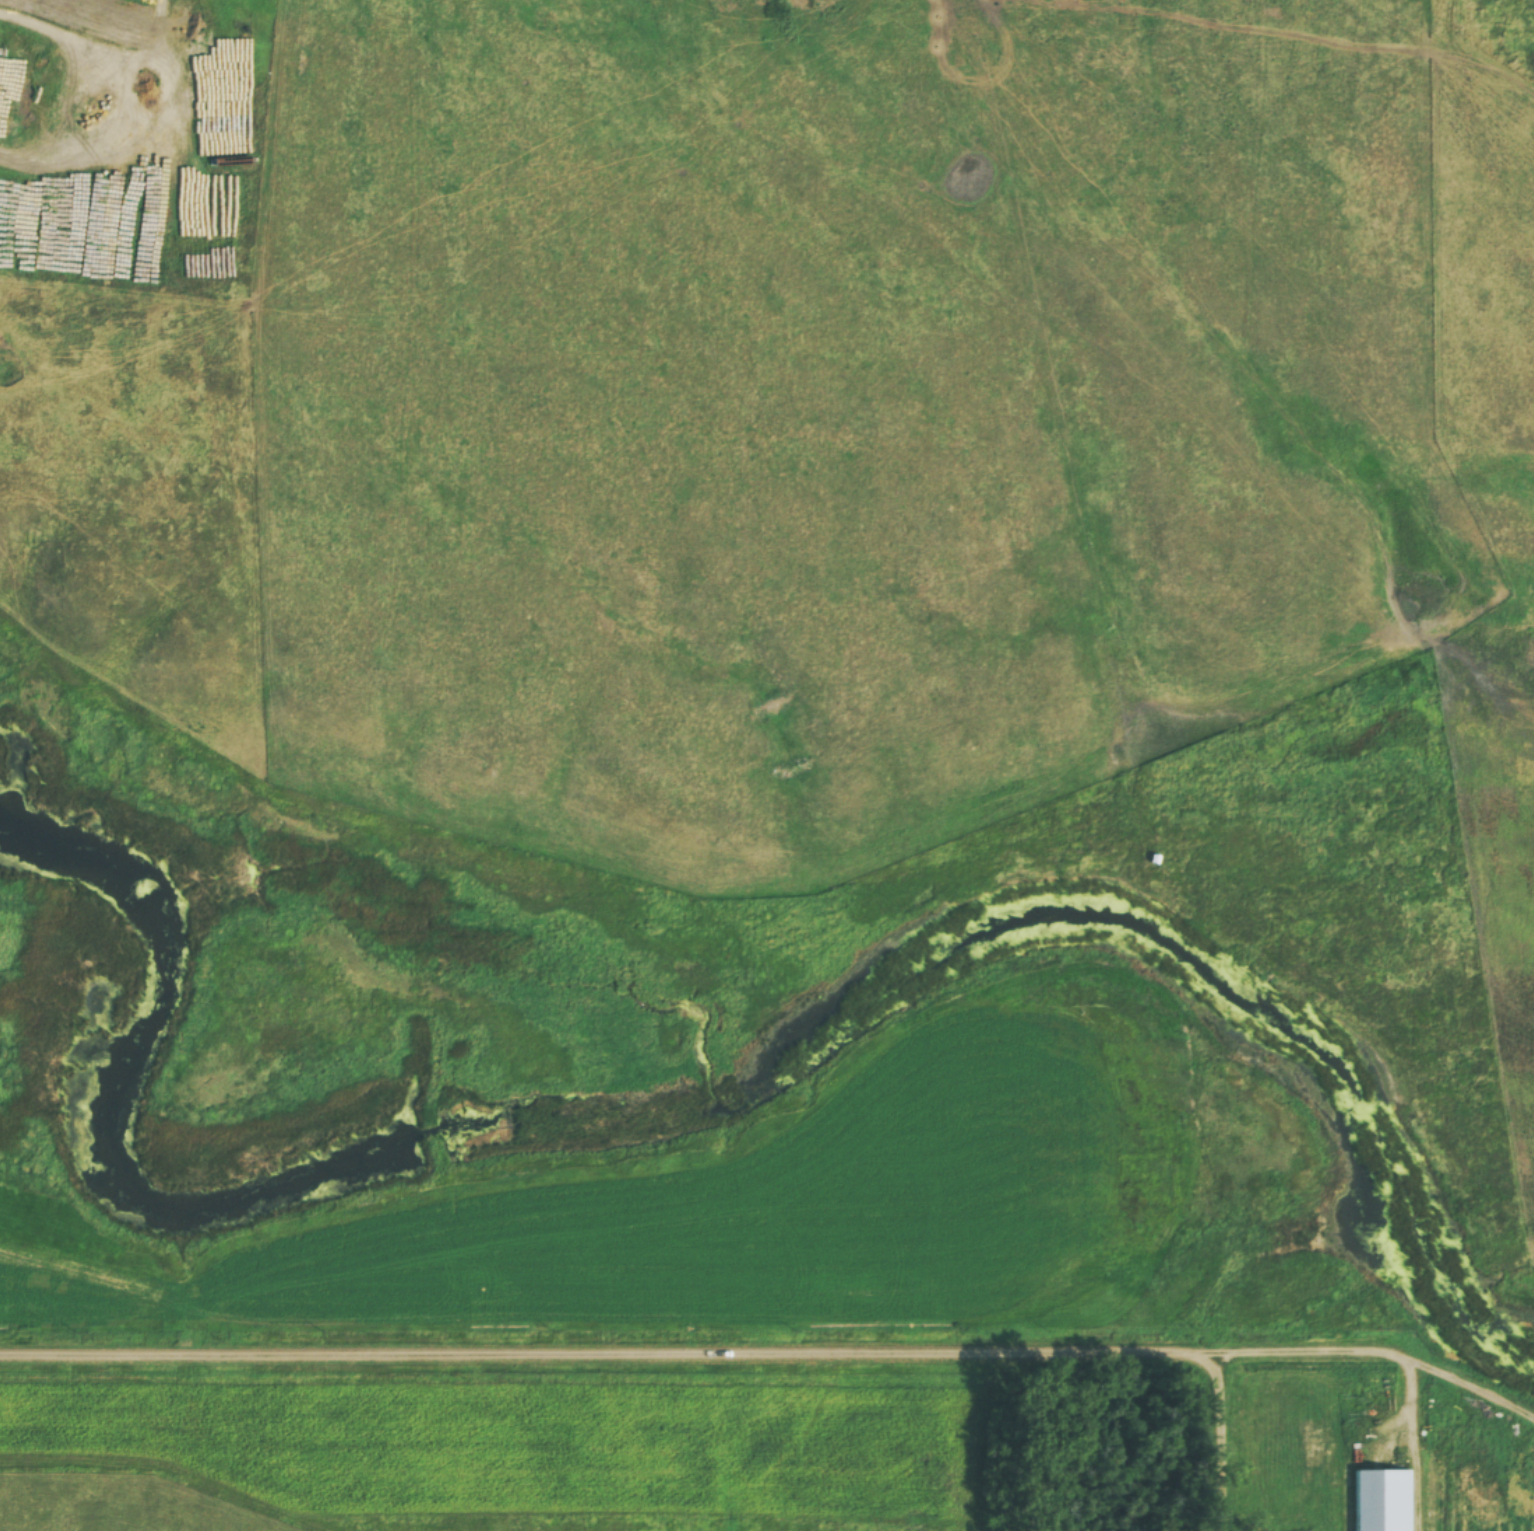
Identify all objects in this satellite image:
road: (604, 1349)
road: (1378, 1349)
road: (1216, 1442)
building: (1382, 1499)

